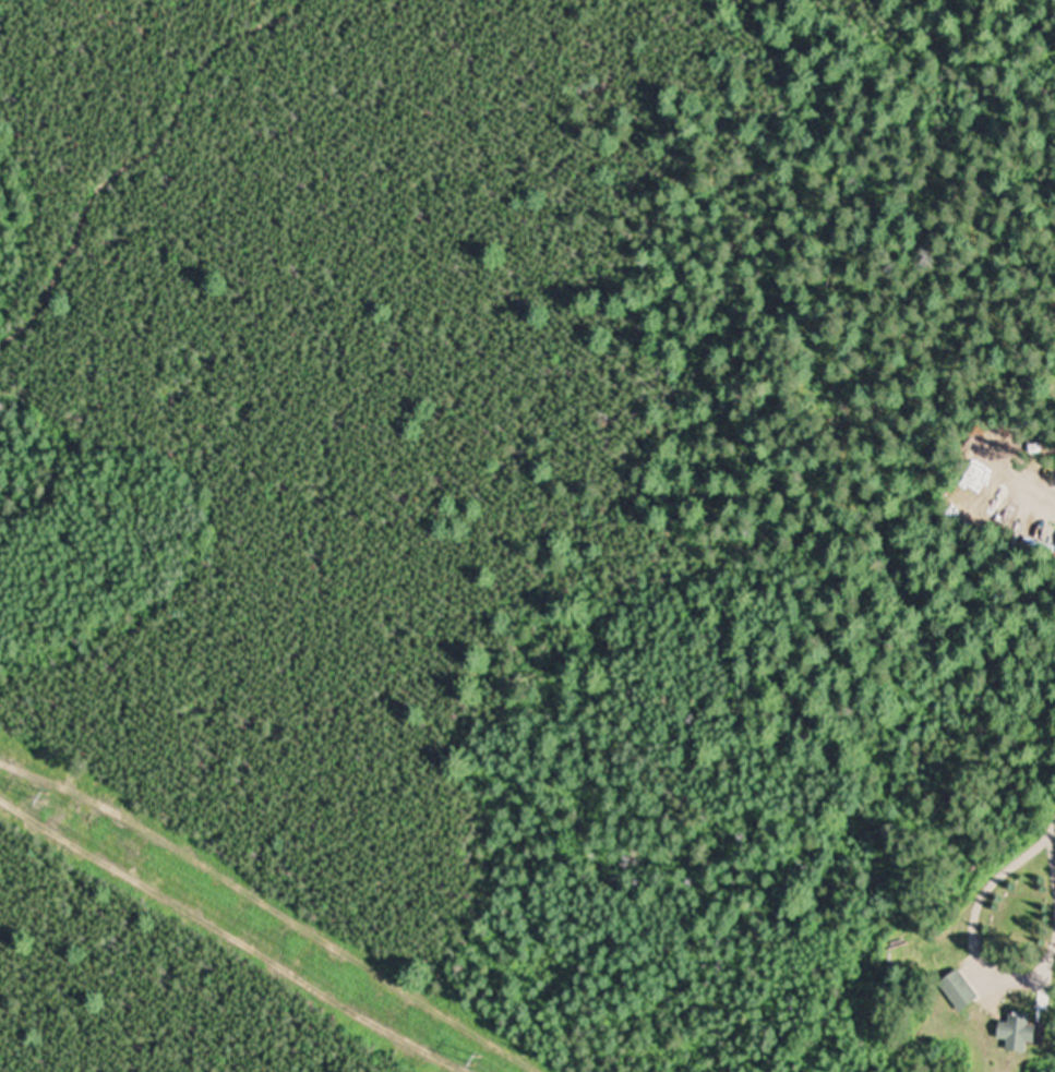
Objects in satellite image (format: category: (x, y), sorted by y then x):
power tower: (43, 787)
building: (962, 992)
building: (1022, 1034)
power tower: (468, 1051)

